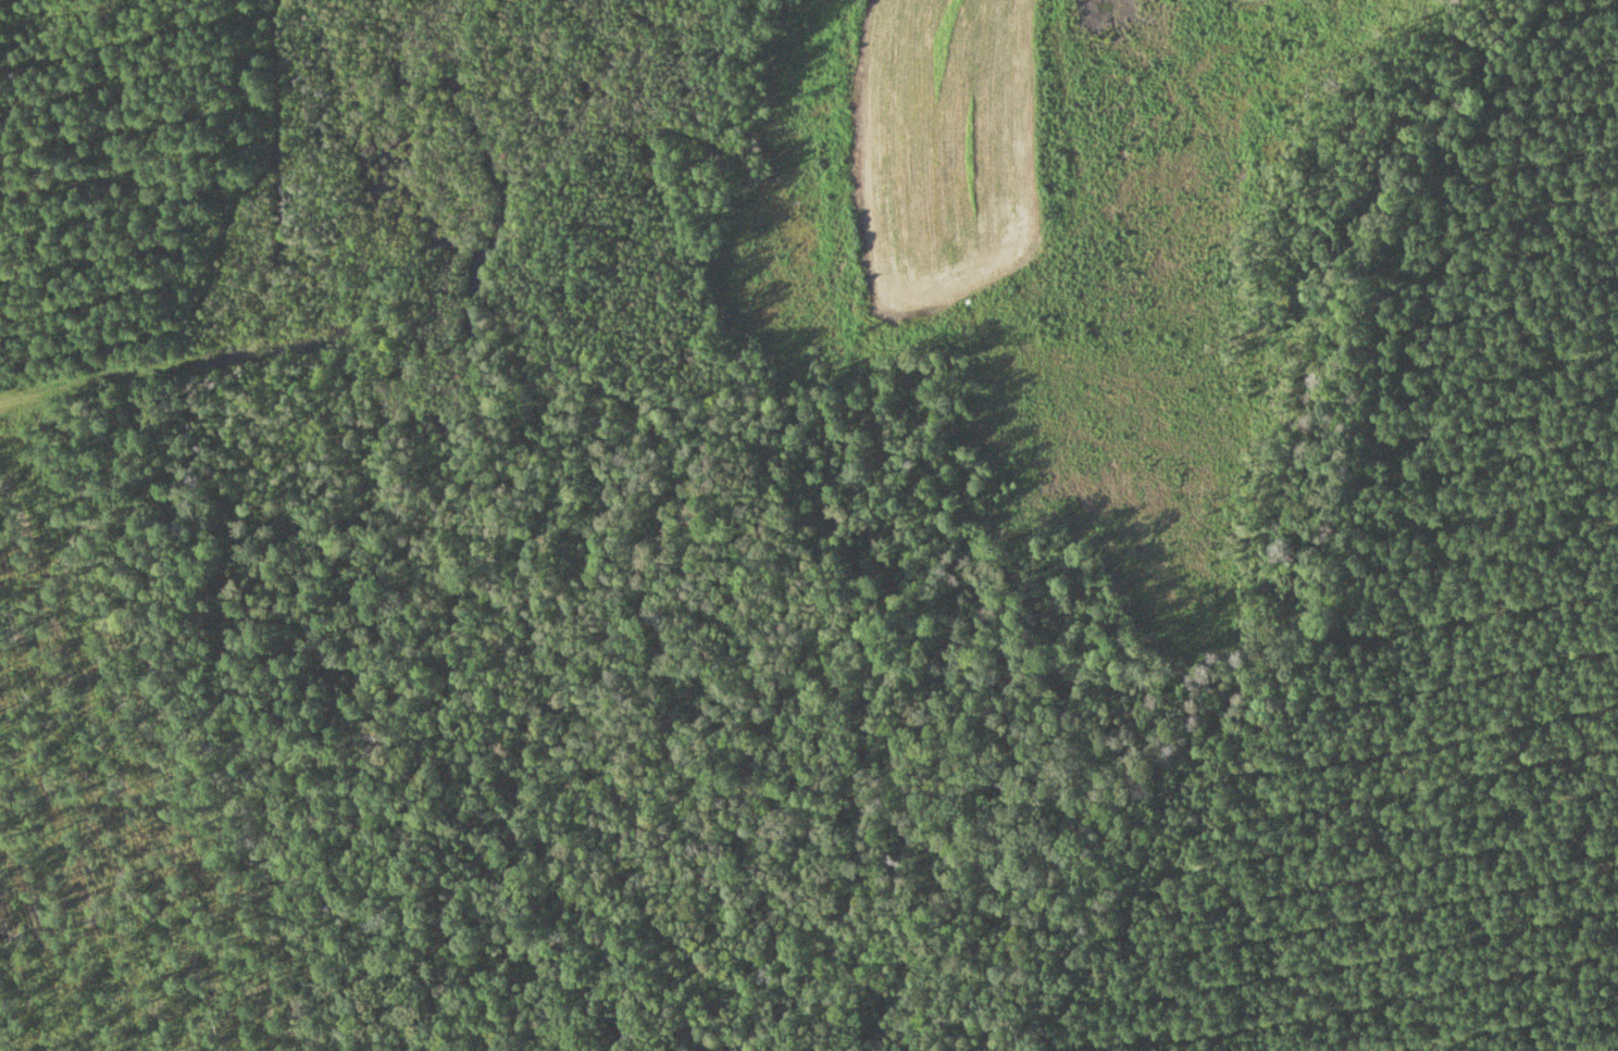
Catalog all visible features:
road: (59, 436)

